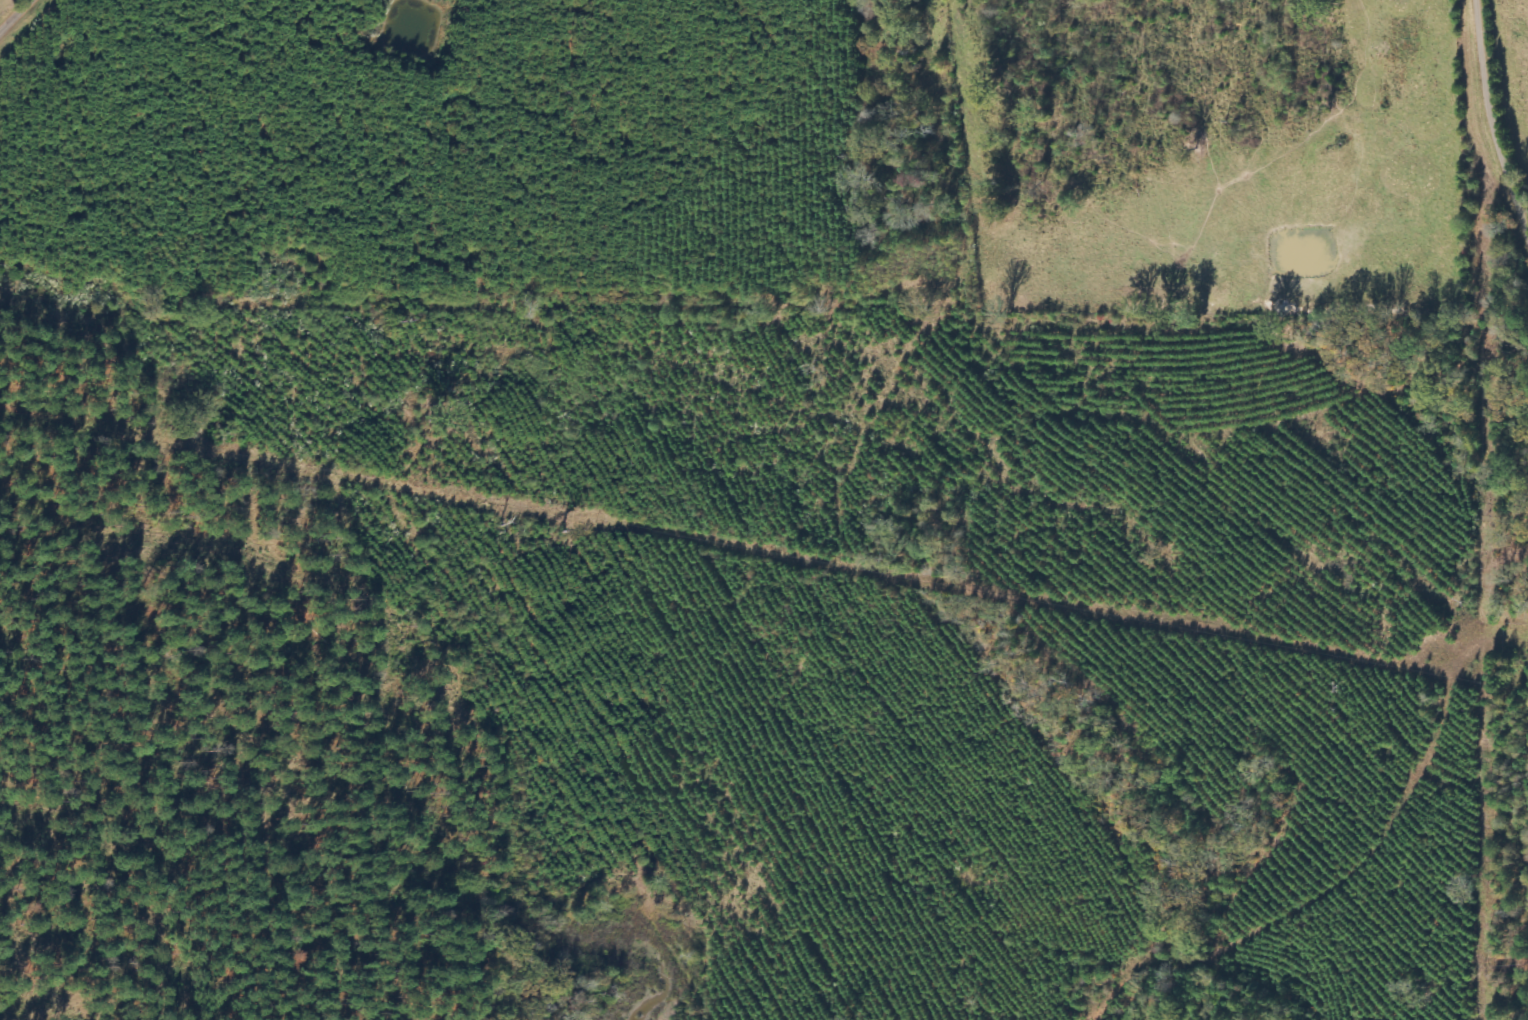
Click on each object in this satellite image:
road: (1498, 105)

